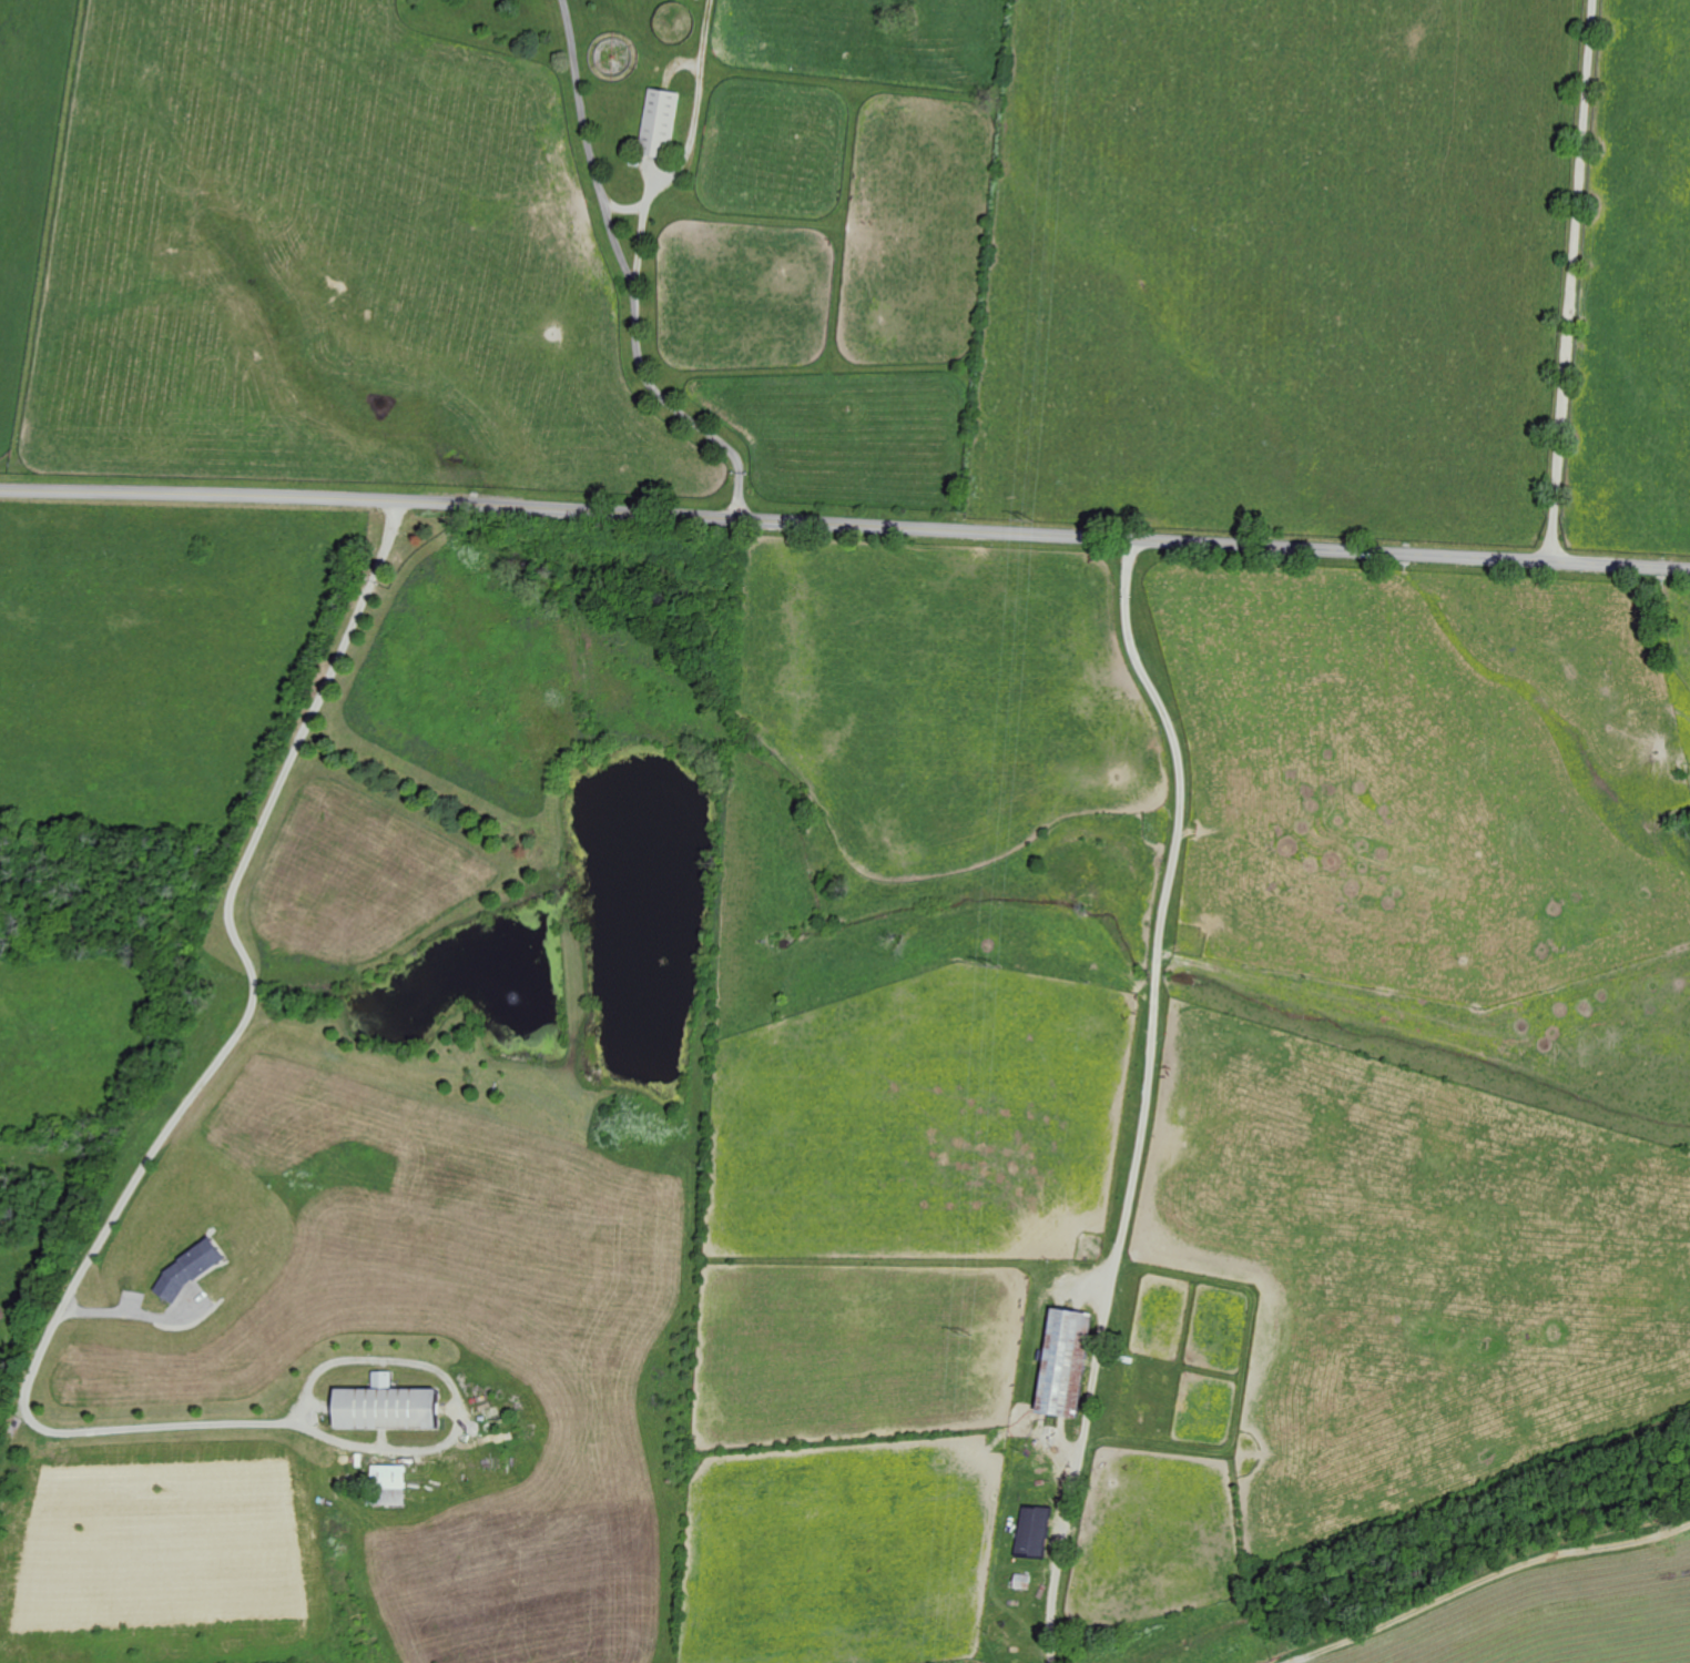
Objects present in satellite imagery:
road: (580, 98)
building: (663, 122)
road: (693, 133)
road: (641, 244)
road: (1569, 280)
road: (637, 351)
road: (740, 495)
road: (845, 525)
road: (204, 1089)
road: (1154, 1099)
building: (183, 1270)
road: (133, 1302)
building: (1058, 1362)
building: (387, 1483)
building: (1029, 1531)
road: (1472, 1581)

